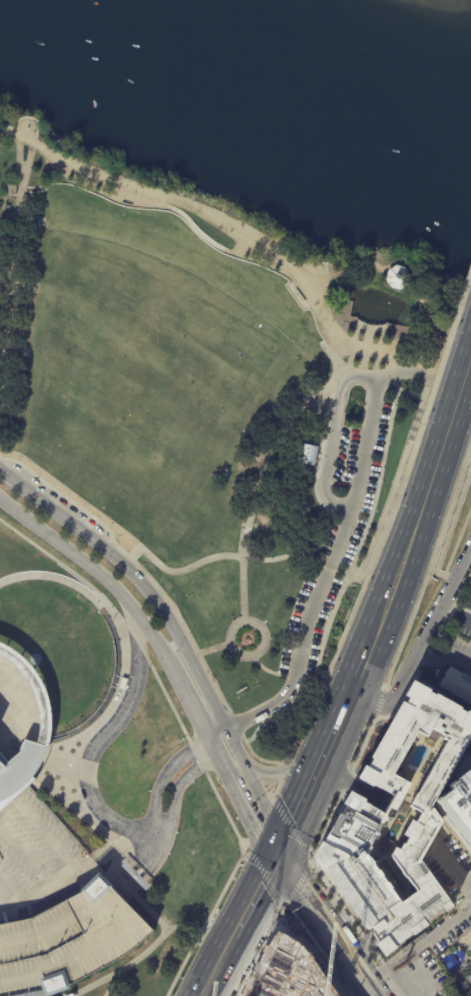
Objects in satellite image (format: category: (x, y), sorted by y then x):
river: (273, 81)
road: (30, 119)
road: (19, 140)
road: (31, 147)
road: (19, 156)
road: (11, 186)
building: (10, 191)
road: (8, 196)
road: (15, 196)
road: (164, 205)
road: (195, 229)
road: (253, 240)
road: (236, 247)
road: (363, 261)
road: (12, 267)
road: (339, 273)
building: (397, 277)
road: (321, 278)
road: (416, 283)
road: (415, 290)
fountain: (403, 305)
road: (417, 313)
road: (432, 316)
pier: (359, 322)
road: (419, 339)
road: (340, 352)
road: (443, 354)
road: (386, 356)
road: (389, 364)
road: (434, 366)
road: (393, 374)
road: (429, 379)
road: (424, 392)
road: (410, 394)
road: (448, 397)
park: (211, 406)
road: (448, 426)
road: (332, 437)
building: (306, 454)
road: (316, 475)
road: (262, 476)
road: (378, 480)
parking lot: (57, 499)
parking lot: (339, 507)
road: (384, 510)
road: (392, 510)
road: (345, 524)
road: (450, 525)
road: (117, 530)
road: (456, 542)
road: (282, 557)
road: (431, 560)
road: (327, 568)
road: (73, 572)
road: (340, 574)
road: (100, 575)
road: (56, 579)
road: (151, 594)
road: (165, 596)
road: (388, 602)
road: (352, 613)
road: (455, 613)
building: (78, 619)
parking lot: (463, 623)
park: (62, 633)
road: (420, 643)
road: (448, 646)
road: (213, 649)
road: (197, 654)
road: (192, 655)
road: (250, 655)
road: (266, 670)
road: (315, 673)
road: (293, 678)
road: (303, 679)
road: (319, 680)
road: (214, 683)
building: (456, 684)
railway: (356, 690)
road: (164, 692)
building: (39, 693)
road: (382, 699)
parking lot: (118, 707)
road: (49, 716)
road: (235, 724)
road: (199, 728)
road: (300, 732)
road: (83, 733)
road: (217, 735)
road: (99, 742)
road: (363, 743)
road: (33, 747)
road: (32, 750)
road: (41, 752)
road: (43, 752)
parking lot: (469, 752)
road: (53, 757)
road: (285, 767)
building: (18, 770)
road: (276, 775)
road: (311, 781)
road: (346, 782)
road: (278, 787)
building: (456, 806)
parking lot: (89, 808)
road: (153, 809)
road: (258, 812)
building: (362, 812)
road: (260, 822)
road: (293, 823)
road: (326, 823)
road: (170, 824)
road: (114, 847)
traffic signals: (278, 855)
parking lot: (36, 862)
road: (112, 867)
road: (70, 870)
road: (456, 870)
road: (233, 872)
building: (134, 875)
road: (265, 879)
road: (298, 881)
road: (124, 886)
parking lot: (451, 891)
road: (274, 895)
road: (256, 896)
road: (290, 897)
road: (310, 903)
road: (288, 911)
road: (286, 912)
road: (151, 913)
road: (278, 915)
road: (287, 915)
park: (468, 942)
building: (70, 944)
parking lot: (70, 944)
road: (152, 948)
building: (280, 952)
road: (423, 954)
road: (220, 966)
building: (457, 966)
park: (144, 971)
road: (358, 973)
building: (288, 976)
road: (110, 986)

